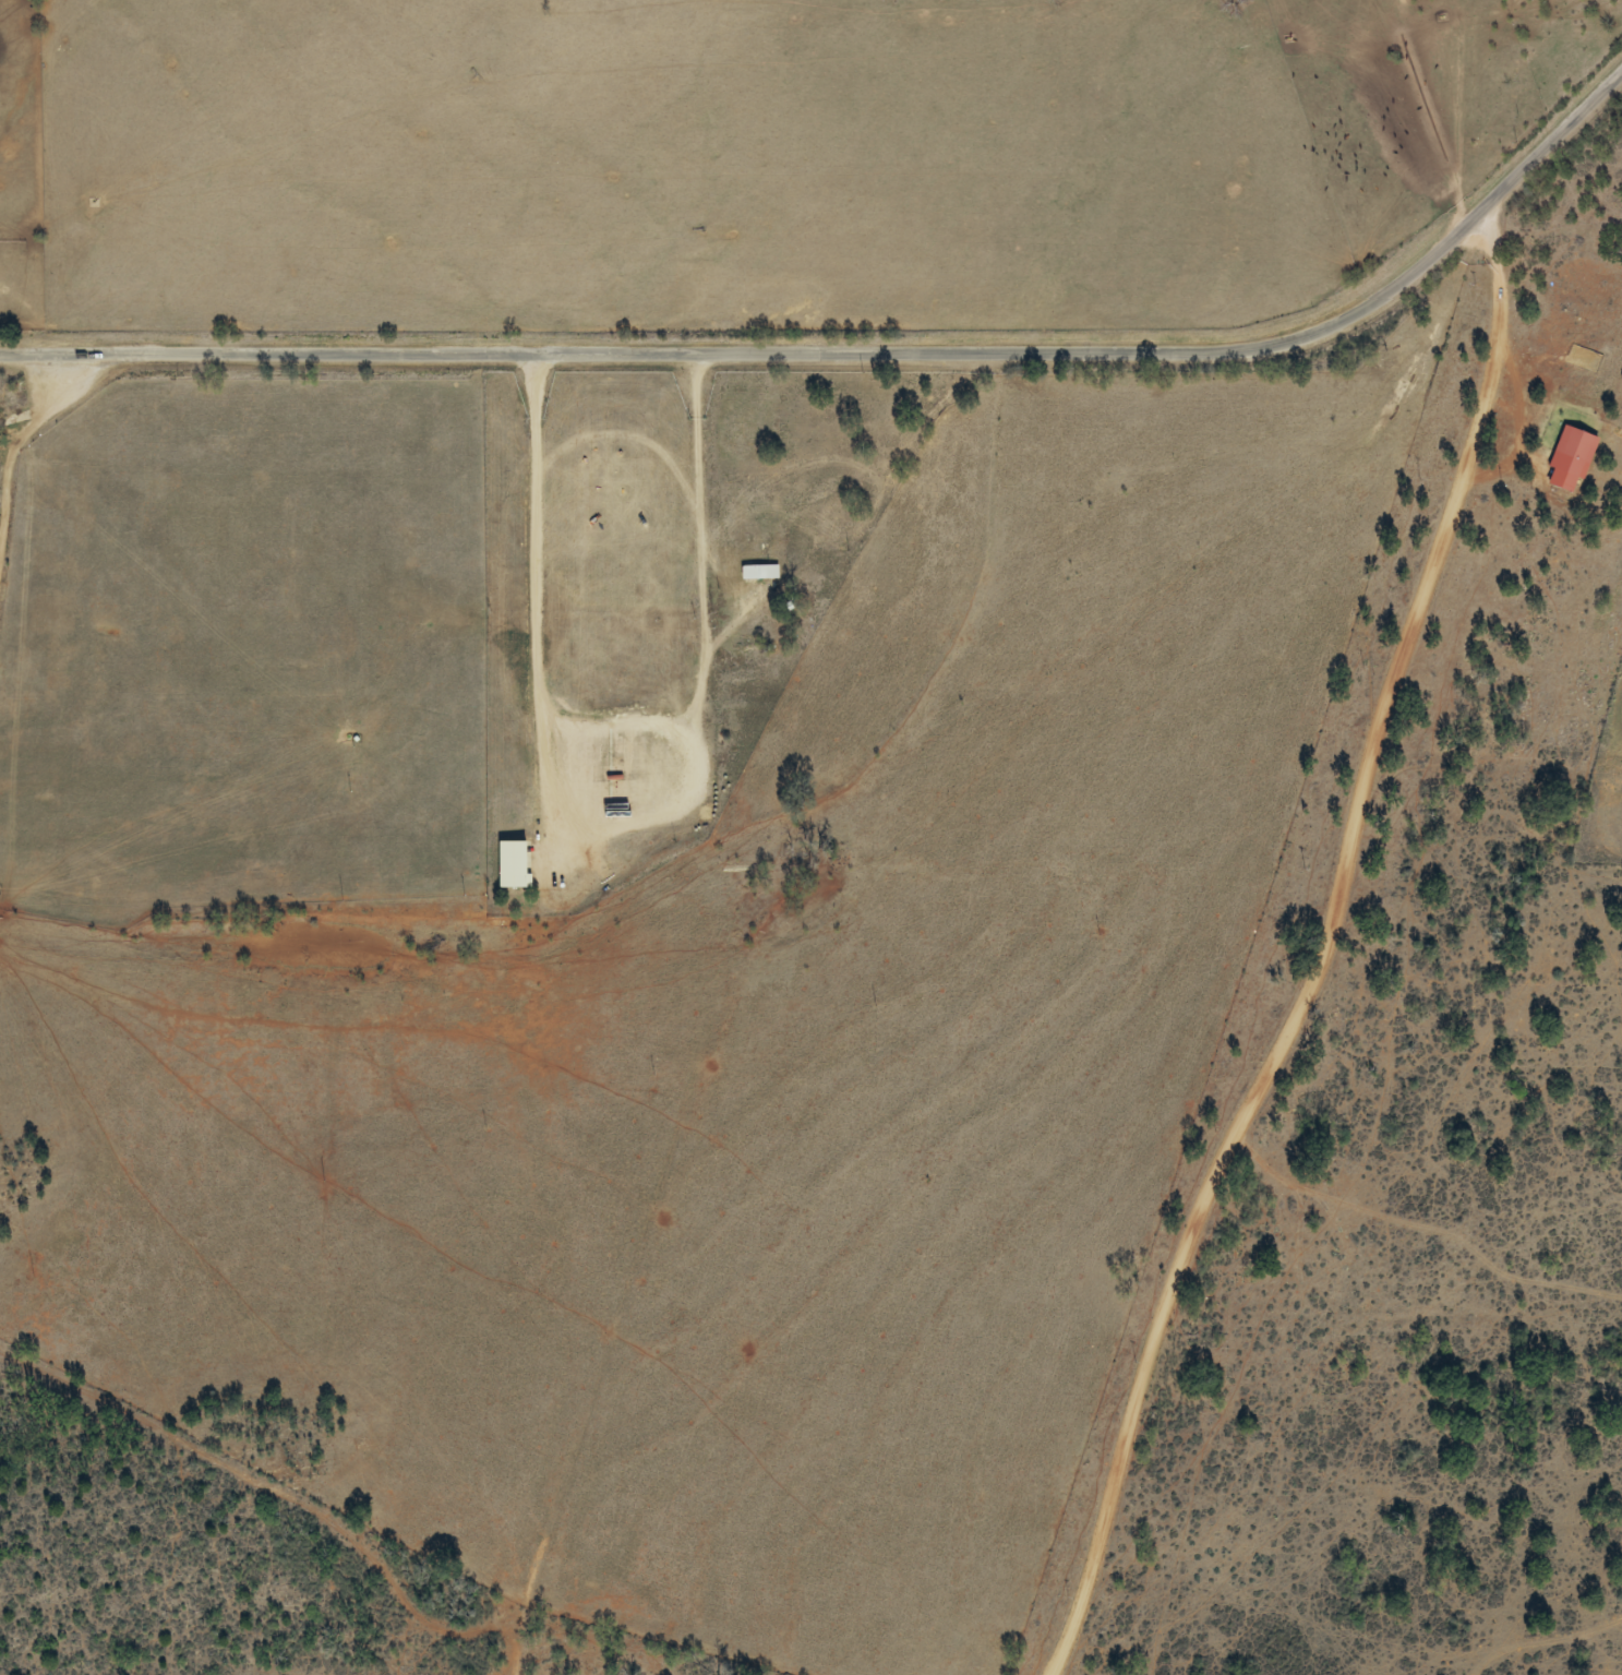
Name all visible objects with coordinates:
road: (863, 369)
building: (759, 572)
building: (510, 865)
road: (1286, 986)

